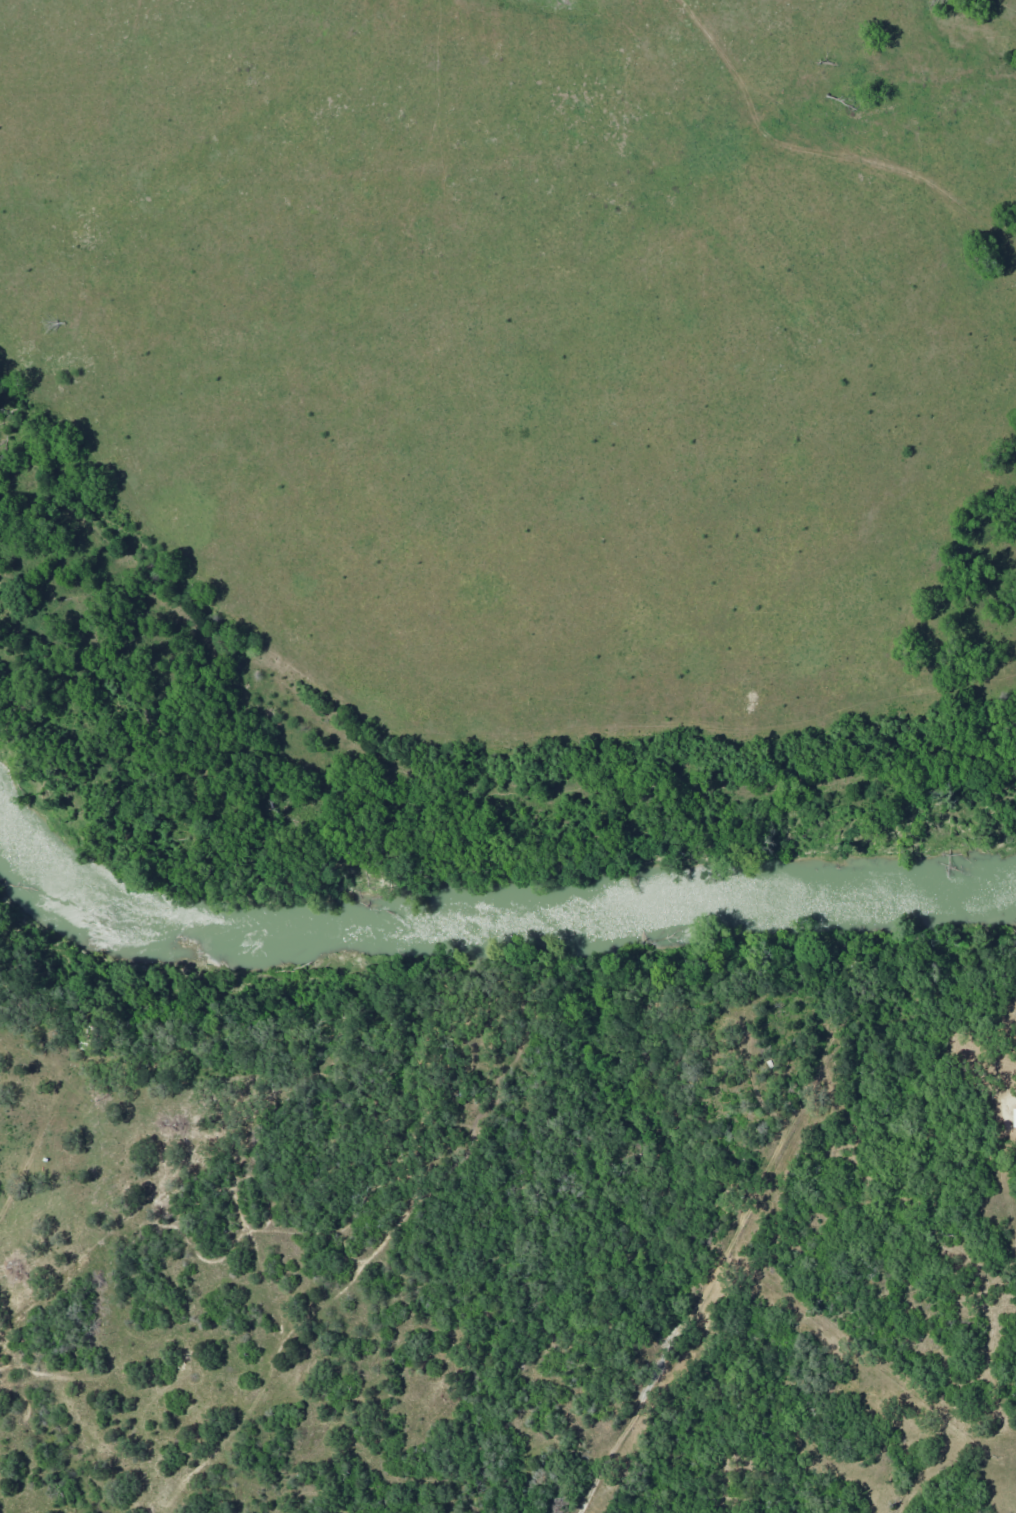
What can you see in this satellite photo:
road: (821, 176)
road: (1005, 312)
road: (471, 724)
river: (491, 916)
building: (1014, 1117)
road: (290, 1300)

